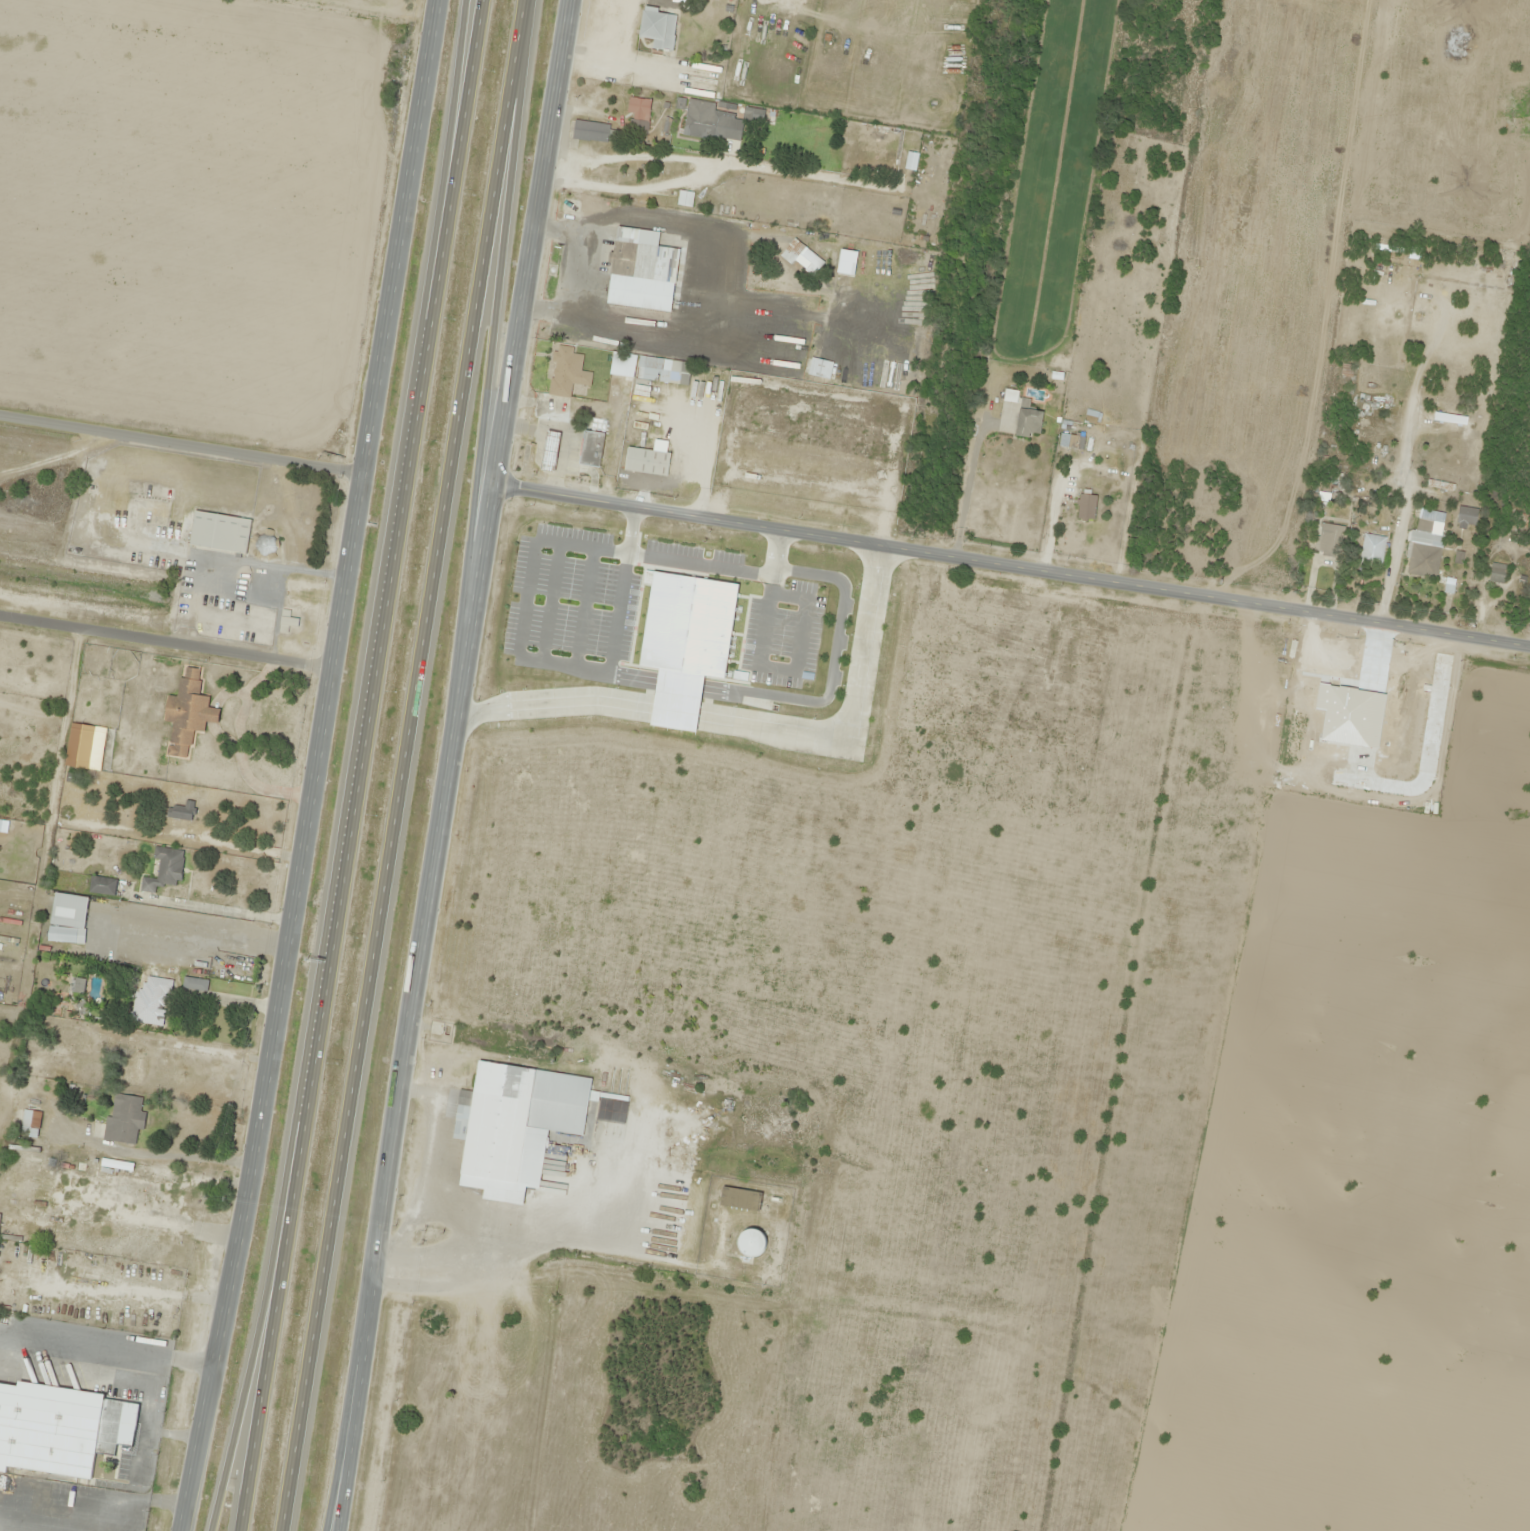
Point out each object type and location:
building: (658, 28)
building: (639, 112)
building: (716, 120)
building: (592, 133)
building: (876, 148)
building: (911, 160)
road: (449, 179)
building: (635, 282)
road: (908, 358)
building: (650, 368)
building: (820, 368)
building: (1346, 370)
building: (568, 371)
road: (507, 408)
road: (488, 409)
building: (1449, 419)
building: (1028, 422)
building: (1071, 441)
road: (182, 443)
building: (592, 448)
building: (550, 450)
building: (647, 461)
building: (1440, 485)
building: (1086, 506)
building: (1466, 517)
building: (219, 532)
building: (1329, 538)
building: (1425, 542)
building: (1371, 551)
road: (1012, 568)
building: (1497, 573)
road: (387, 589)
building: (287, 623)
road: (167, 639)
building: (187, 713)
road: (407, 765)
road: (318, 767)
building: (180, 812)
building: (165, 869)
building: (102, 885)
building: (65, 915)
building: (66, 935)
building: (150, 1000)
building: (68, 1040)
building: (139, 1065)
building: (124, 1119)
building: (26, 1122)
building: (509, 1122)
road: (391, 1174)
building: (740, 1199)
building: (751, 1243)
road: (250, 1355)
road: (266, 1355)
road: (354, 1400)
building: (60, 1432)

